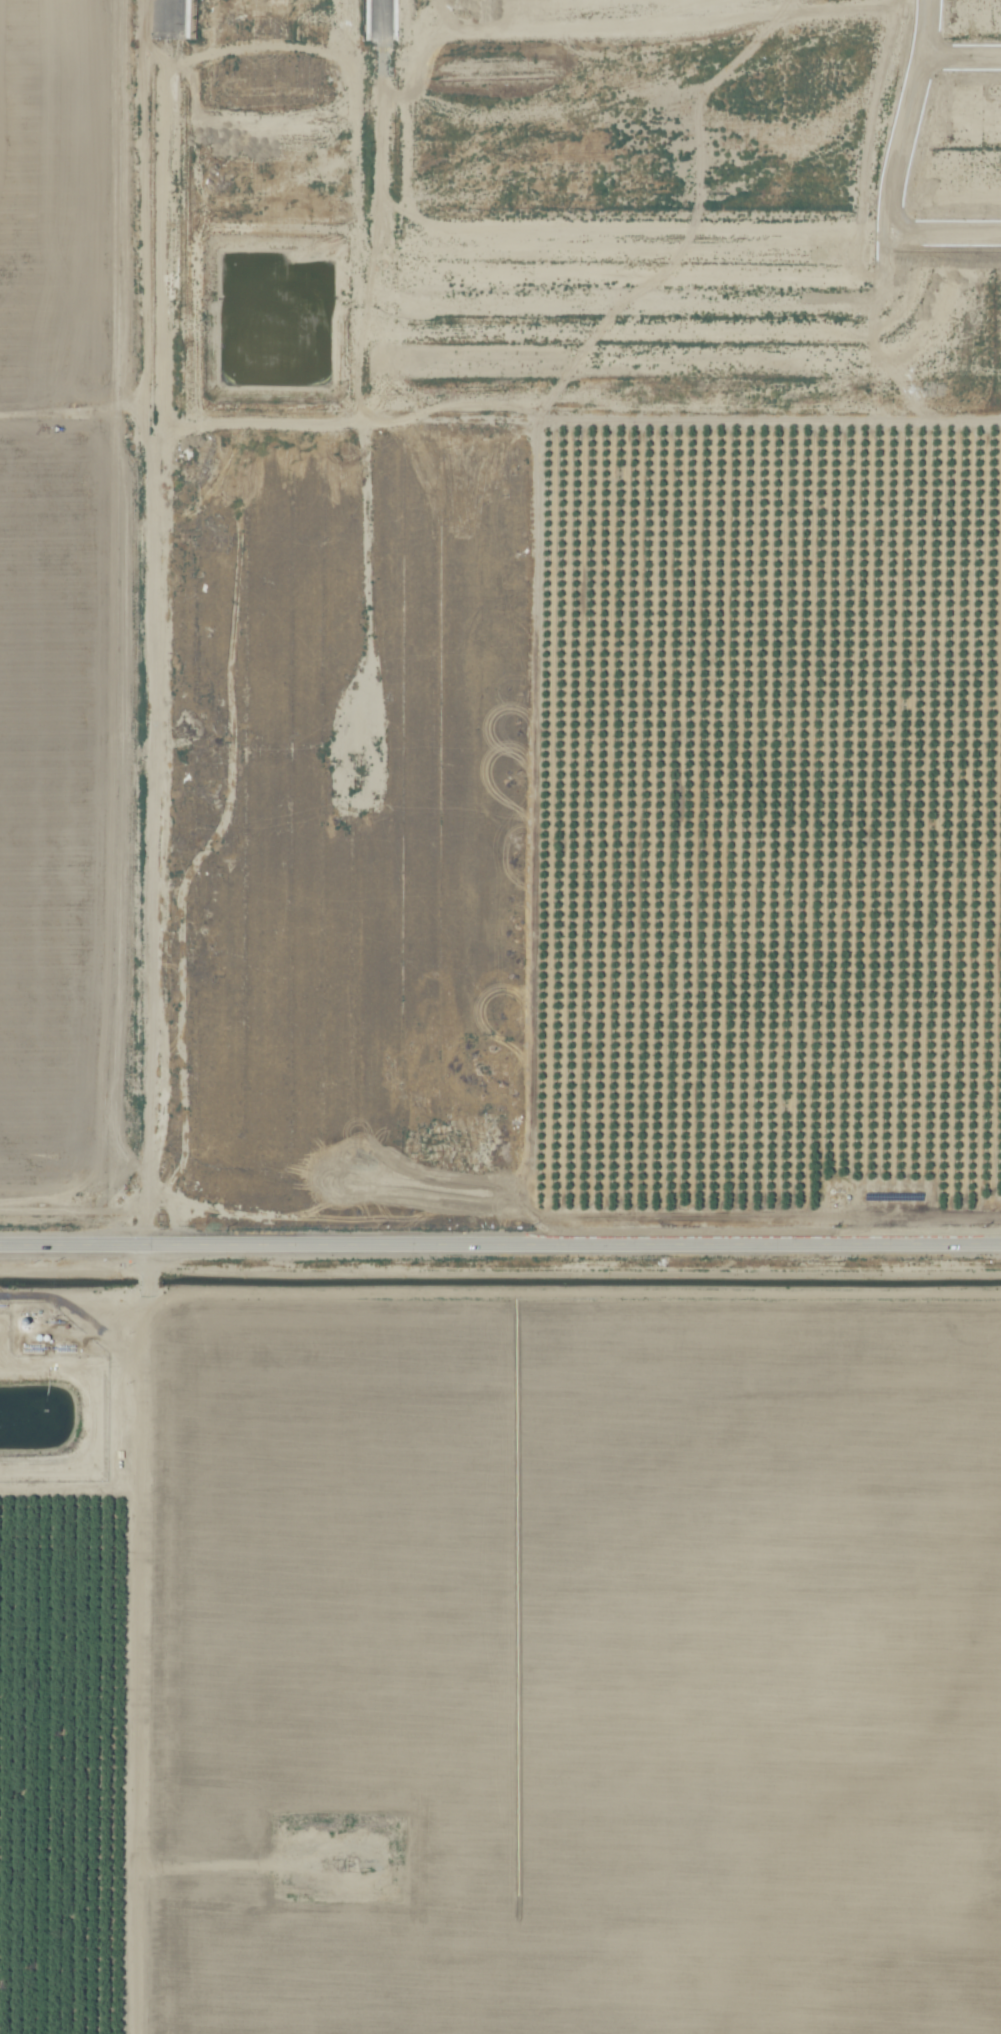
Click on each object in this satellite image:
road: (958, 55)
road: (897, 146)
road: (384, 149)
road: (940, 234)
road: (631, 296)
road: (154, 622)
road: (500, 1244)
road: (149, 1639)

